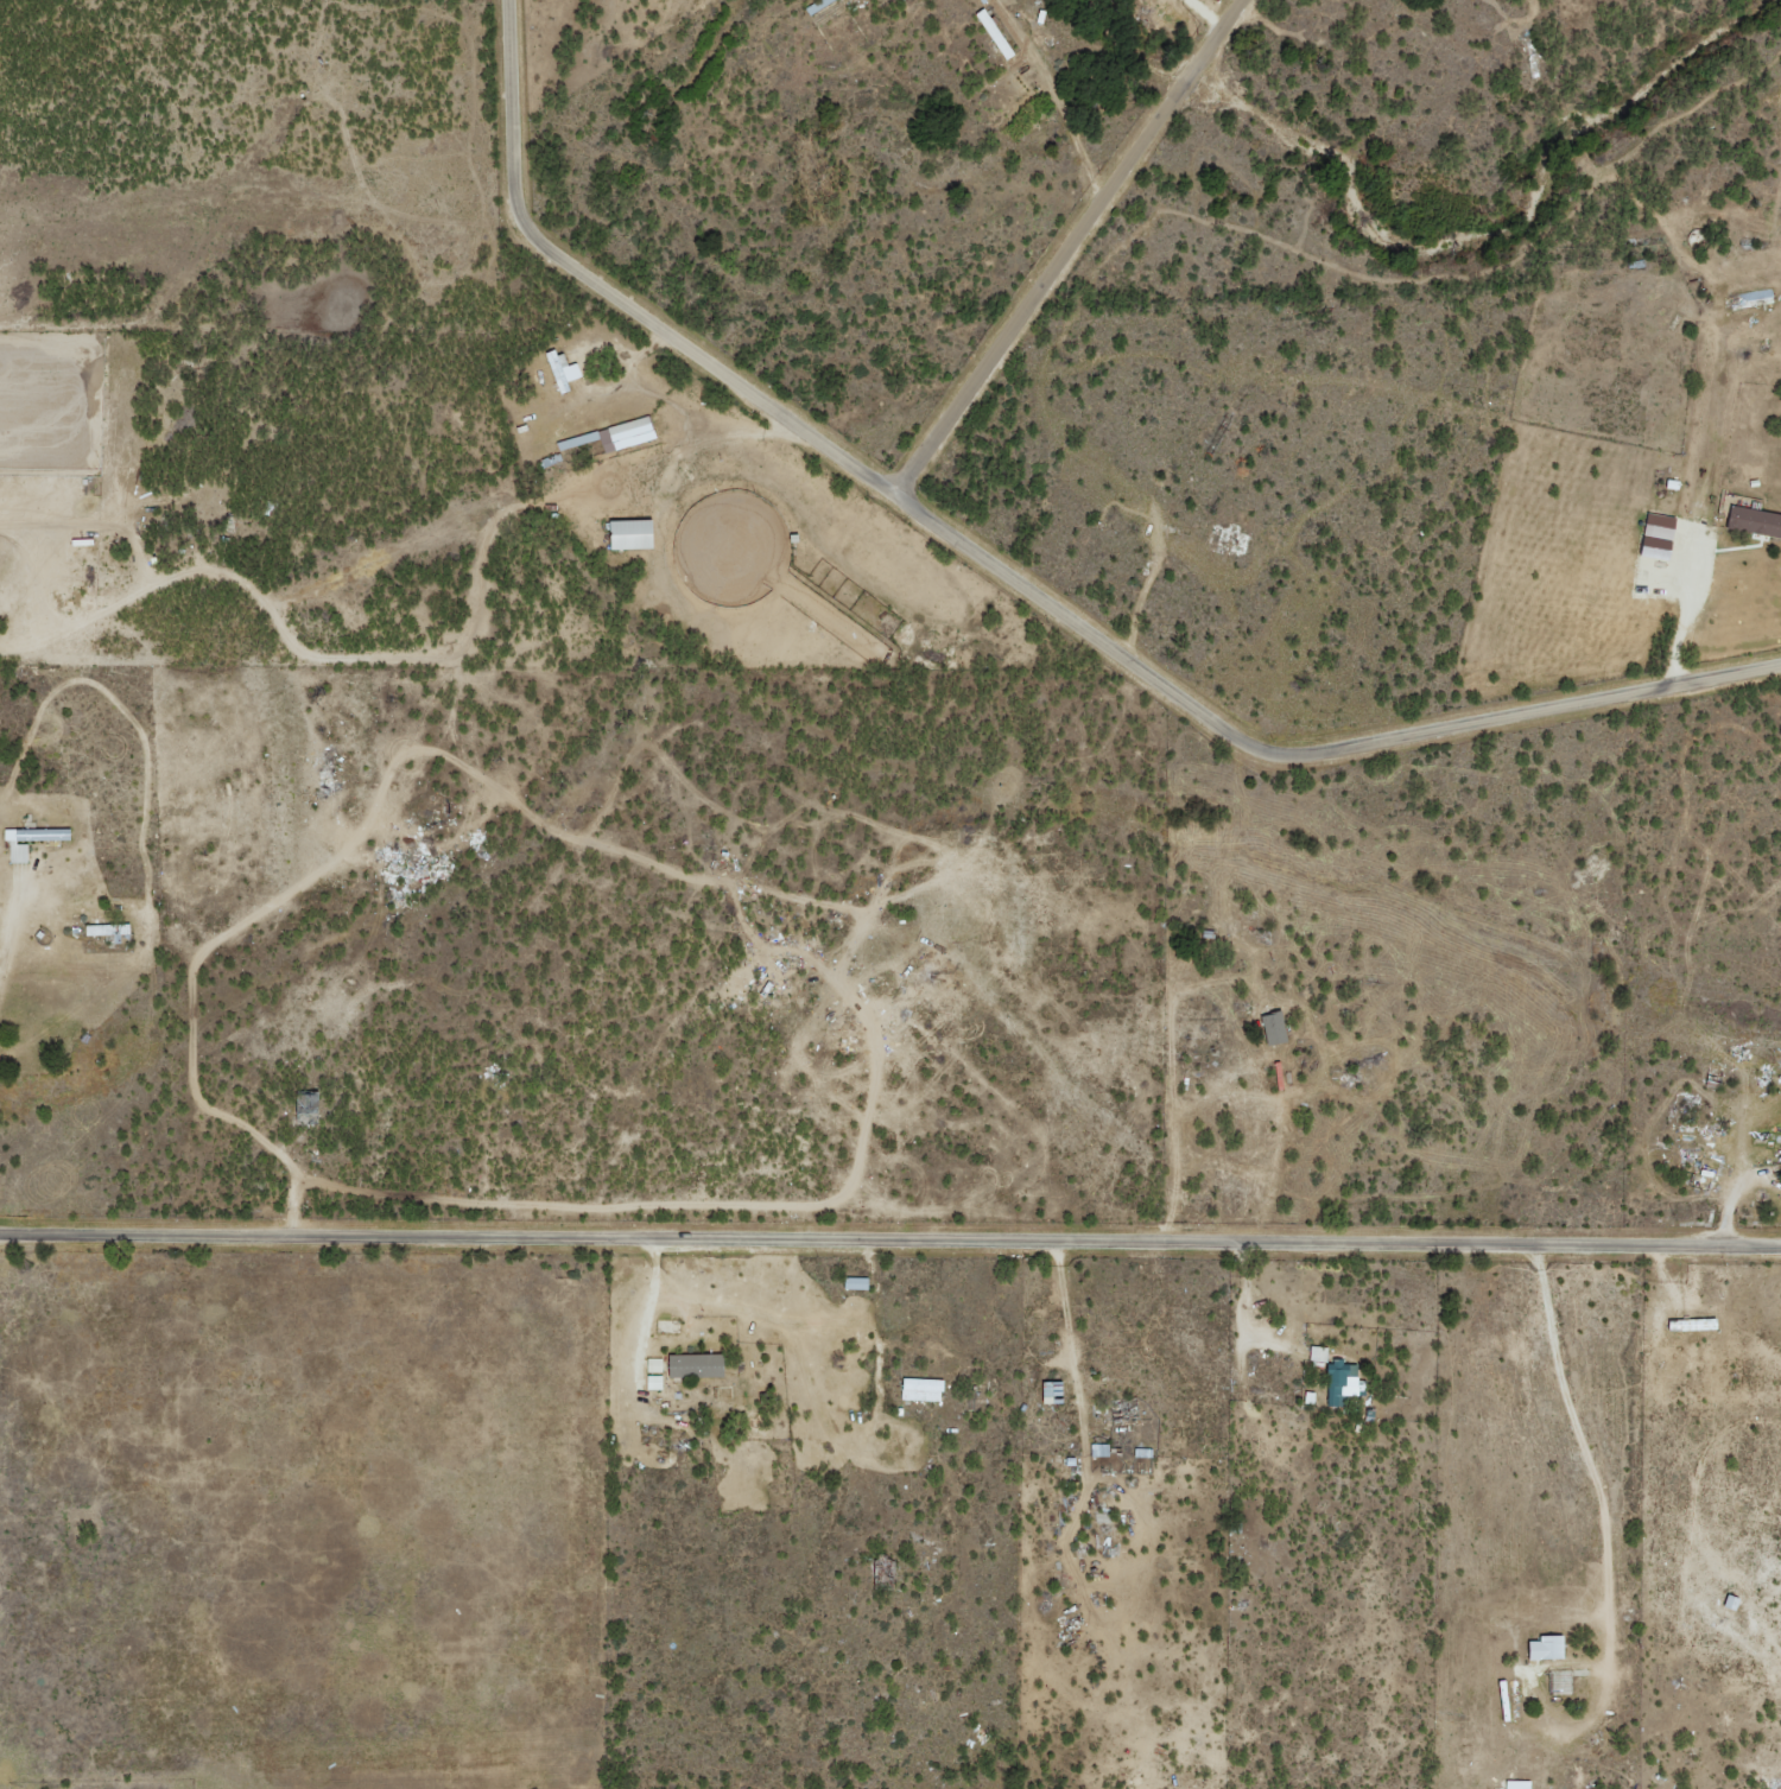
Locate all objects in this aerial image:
road: (1064, 245)
building: (1756, 298)
building: (560, 370)
building: (615, 436)
building: (1754, 521)
building: (628, 534)
building: (1656, 537)
road: (1013, 581)
building: (30, 840)
building: (108, 931)
building: (1273, 1028)
road: (890, 1238)
building: (855, 1283)
building: (1318, 1355)
building: (653, 1365)
building: (695, 1366)
building: (653, 1383)
building: (1339, 1383)
building: (920, 1390)
building: (1051, 1394)
building: (1098, 1451)
building: (1735, 1598)
building: (1545, 1649)
building: (1516, 1785)

